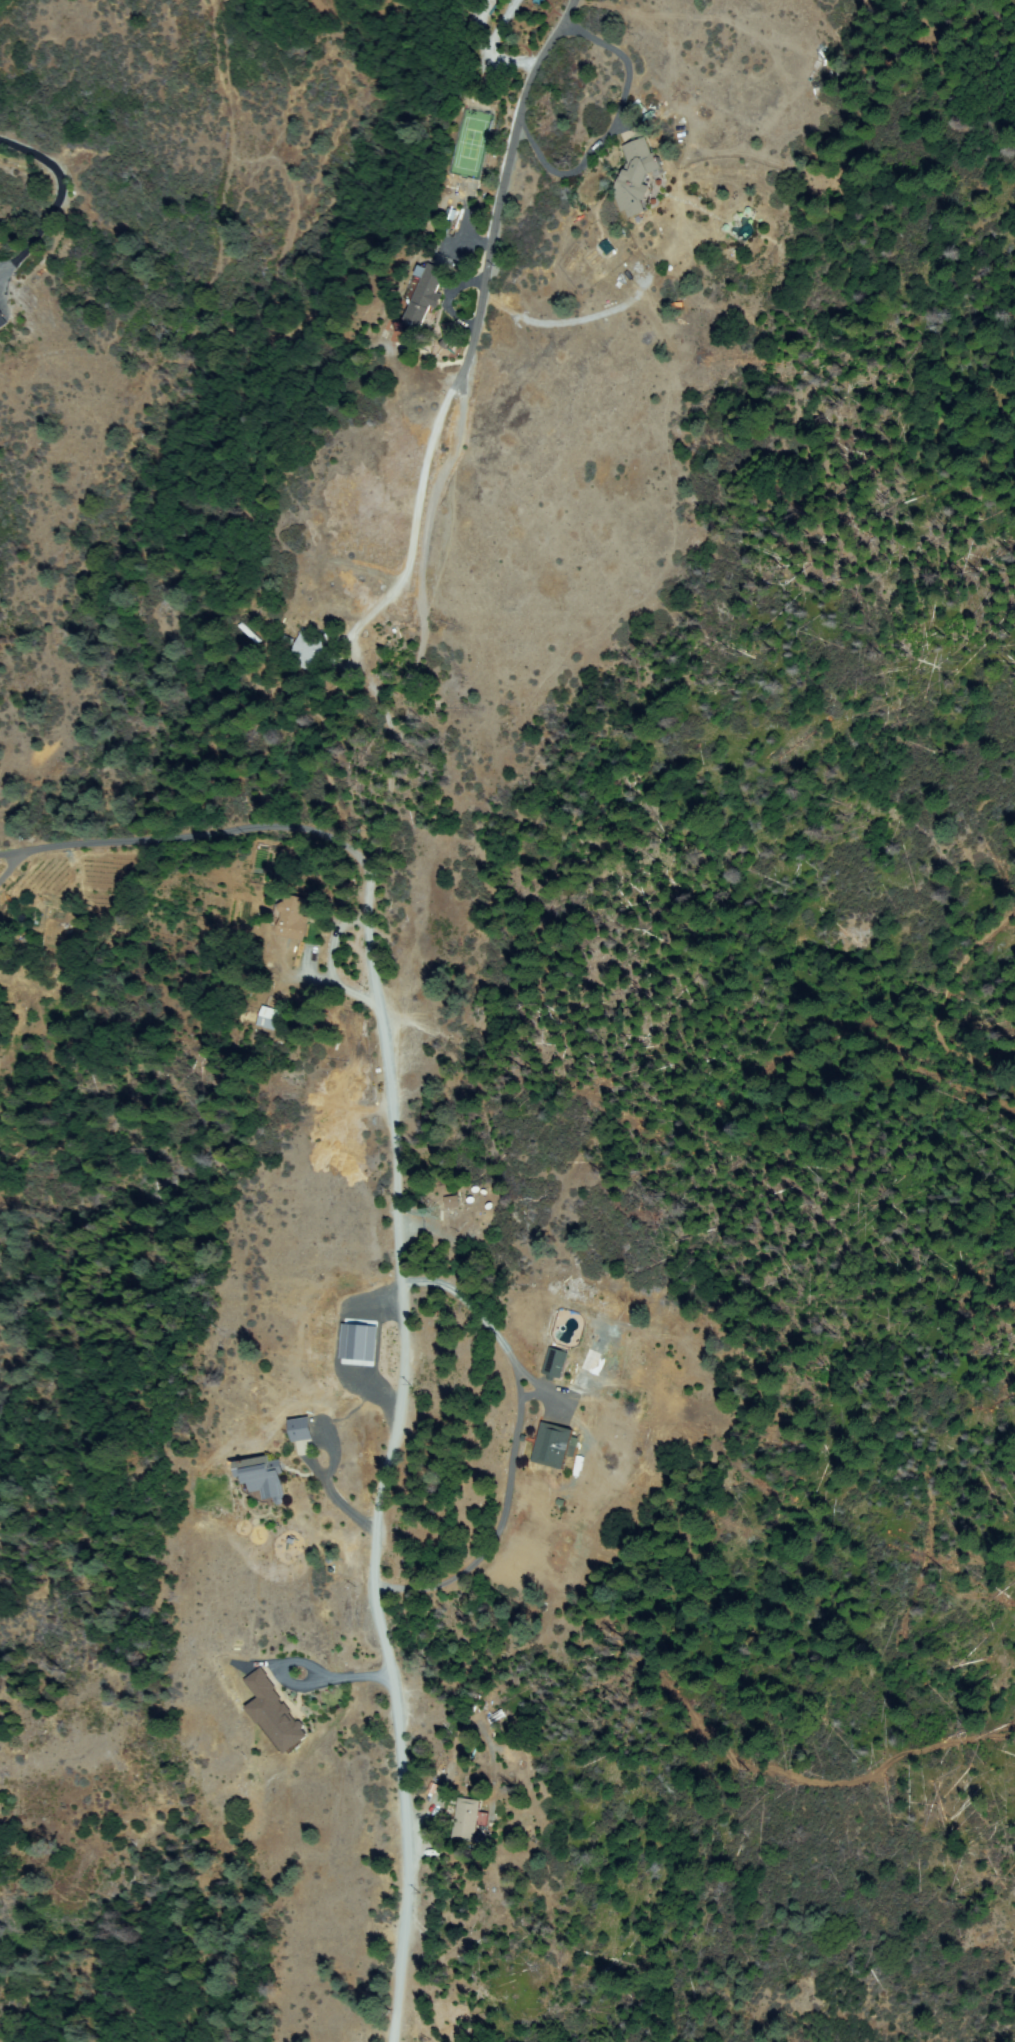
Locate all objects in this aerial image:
building: (539, 2)
building: (636, 176)
road: (57, 203)
building: (606, 247)
building: (425, 295)
building: (2, 322)
building: (249, 634)
building: (289, 640)
building: (308, 652)
road: (230, 831)
road: (11, 850)
road: (11, 860)
building: (293, 918)
road: (943, 1004)
road: (379, 1007)
building: (268, 1018)
building: (451, 1202)
building: (352, 1340)
building: (553, 1363)
building: (300, 1429)
building: (554, 1446)
building: (263, 1476)
building: (277, 1715)
building: (469, 1820)

